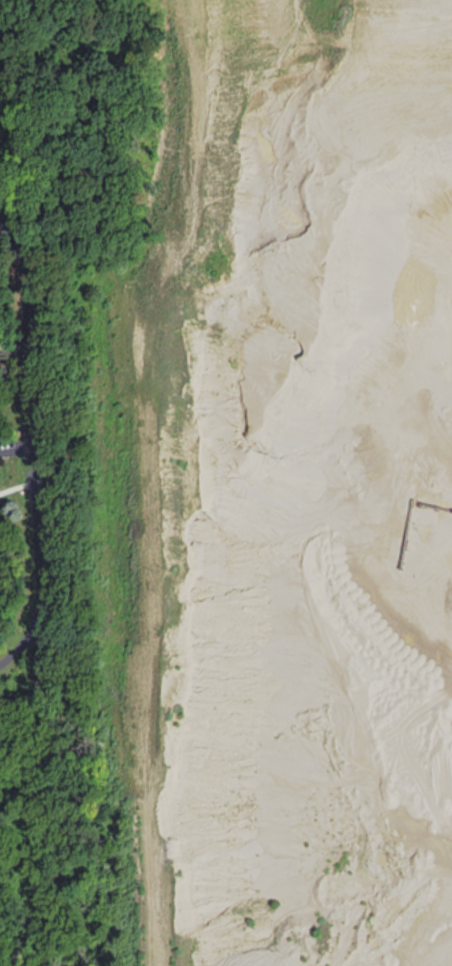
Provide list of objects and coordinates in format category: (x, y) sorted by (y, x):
road: (37, 440)

